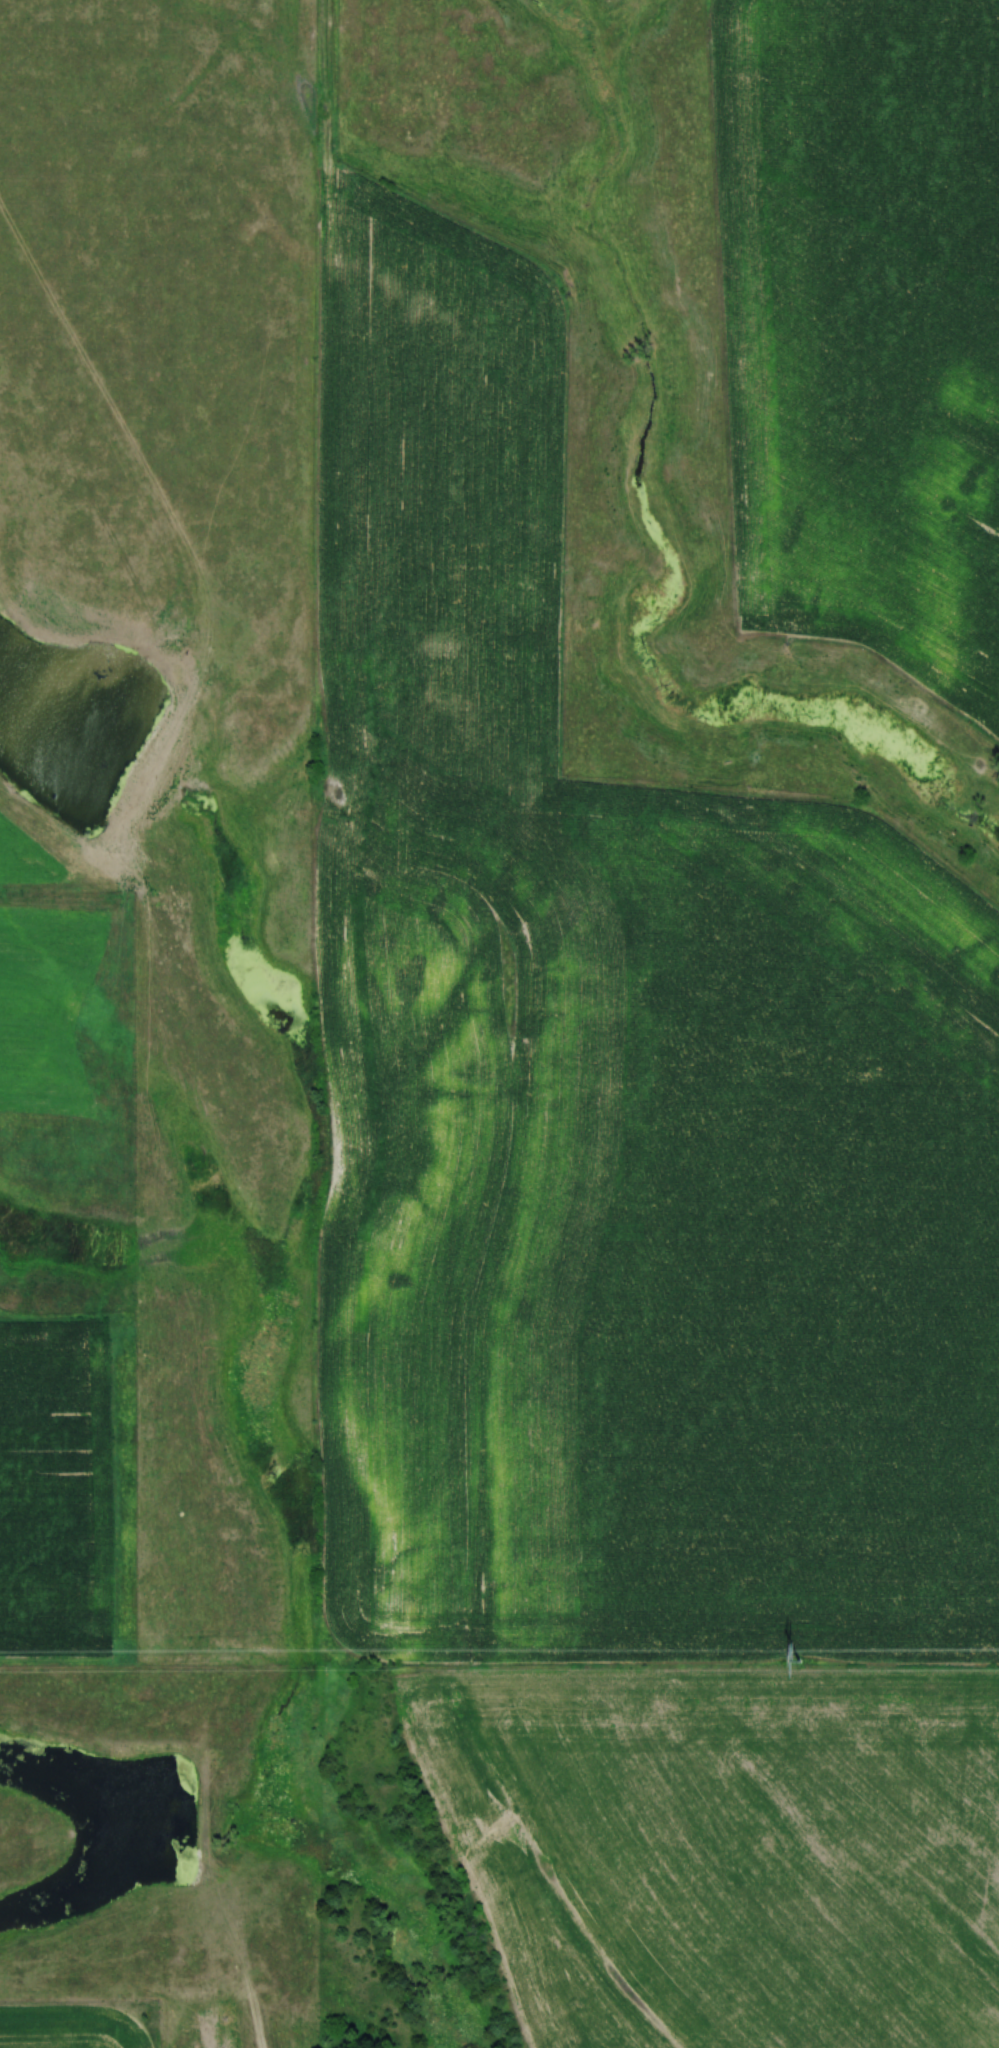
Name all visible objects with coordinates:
power tower: (796, 1661)

